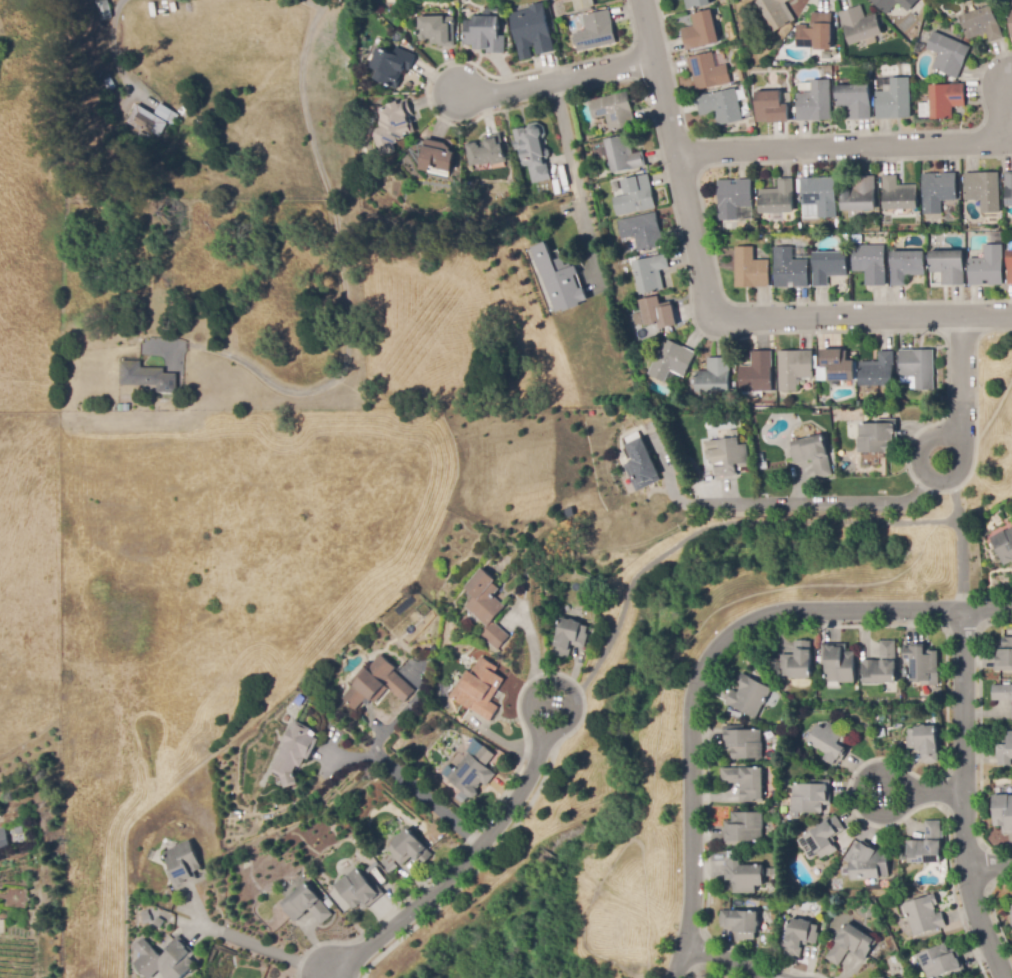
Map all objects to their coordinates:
building: (696, 3)
road: (311, 4)
building: (582, 4)
building: (894, 4)
building: (104, 10)
building: (776, 13)
building: (1010, 21)
building: (836, 22)
building: (983, 24)
building: (860, 25)
building: (437, 30)
building: (532, 31)
building: (702, 31)
building: (596, 32)
building: (816, 33)
building: (484, 34)
building: (926, 37)
road: (113, 54)
building: (948, 55)
building: (391, 66)
building: (906, 70)
building: (708, 72)
road: (556, 81)
building: (108, 83)
building: (788, 97)
building: (855, 100)
building: (895, 100)
building: (947, 100)
building: (815, 102)
building: (721, 106)
building: (771, 108)
building: (614, 111)
building: (182, 112)
building: (152, 119)
building: (392, 126)
building: (140, 136)
road: (854, 146)
building: (486, 151)
building: (533, 151)
building: (624, 155)
building: (437, 156)
road: (678, 159)
road: (575, 184)
building: (1008, 188)
building: (984, 190)
building: (938, 191)
building: (898, 194)
building: (820, 195)
building: (860, 195)
building: (635, 196)
building: (733, 198)
building: (778, 198)
building: (642, 231)
building: (870, 263)
building: (828, 266)
building: (907, 266)
building: (949, 267)
building: (988, 267)
building: (1010, 268)
road: (349, 269)
building: (751, 269)
building: (790, 269)
building: (651, 274)
building: (558, 280)
building: (656, 314)
road: (863, 317)
building: (670, 360)
building: (839, 364)
building: (918, 367)
building: (794, 368)
building: (878, 371)
building: (757, 374)
building: (714, 376)
building: (148, 377)
road: (963, 377)
building: (120, 408)
building: (878, 436)
road: (953, 438)
building: (813, 454)
building: (732, 457)
building: (760, 457)
building: (643, 467)
building: (696, 477)
road: (672, 487)
road: (824, 501)
road: (718, 525)
road: (961, 544)
building: (1003, 546)
building: (487, 607)
building: (570, 637)
road: (531, 641)
building: (1004, 655)
road: (707, 660)
building: (797, 661)
building: (922, 662)
building: (839, 663)
building: (881, 666)
building: (377, 684)
building: (479, 689)
building: (1002, 693)
building: (749, 696)
park: (676, 721)
road: (536, 728)
building: (831, 742)
building: (743, 743)
building: (924, 743)
building: (895, 745)
building: (1006, 750)
building: (294, 753)
building: (447, 771)
building: (473, 772)
building: (746, 782)
road: (936, 790)
building: (462, 797)
building: (810, 797)
road: (962, 797)
road: (424, 798)
road: (909, 799)
building: (1003, 812)
building: (743, 828)
building: (20, 833)
building: (825, 837)
building: (2, 840)
building: (927, 845)
building: (409, 849)
building: (869, 862)
building: (183, 864)
road: (988, 865)
building: (372, 867)
building: (392, 868)
road: (456, 870)
building: (744, 874)
building: (831, 884)
building: (360, 890)
building: (306, 905)
building: (924, 915)
building: (1011, 917)
building: (146, 920)
building: (159, 921)
building: (740, 924)
building: (801, 937)
building: (851, 945)
road: (265, 951)
building: (166, 960)
road: (725, 961)
building: (941, 961)
building: (888, 977)

